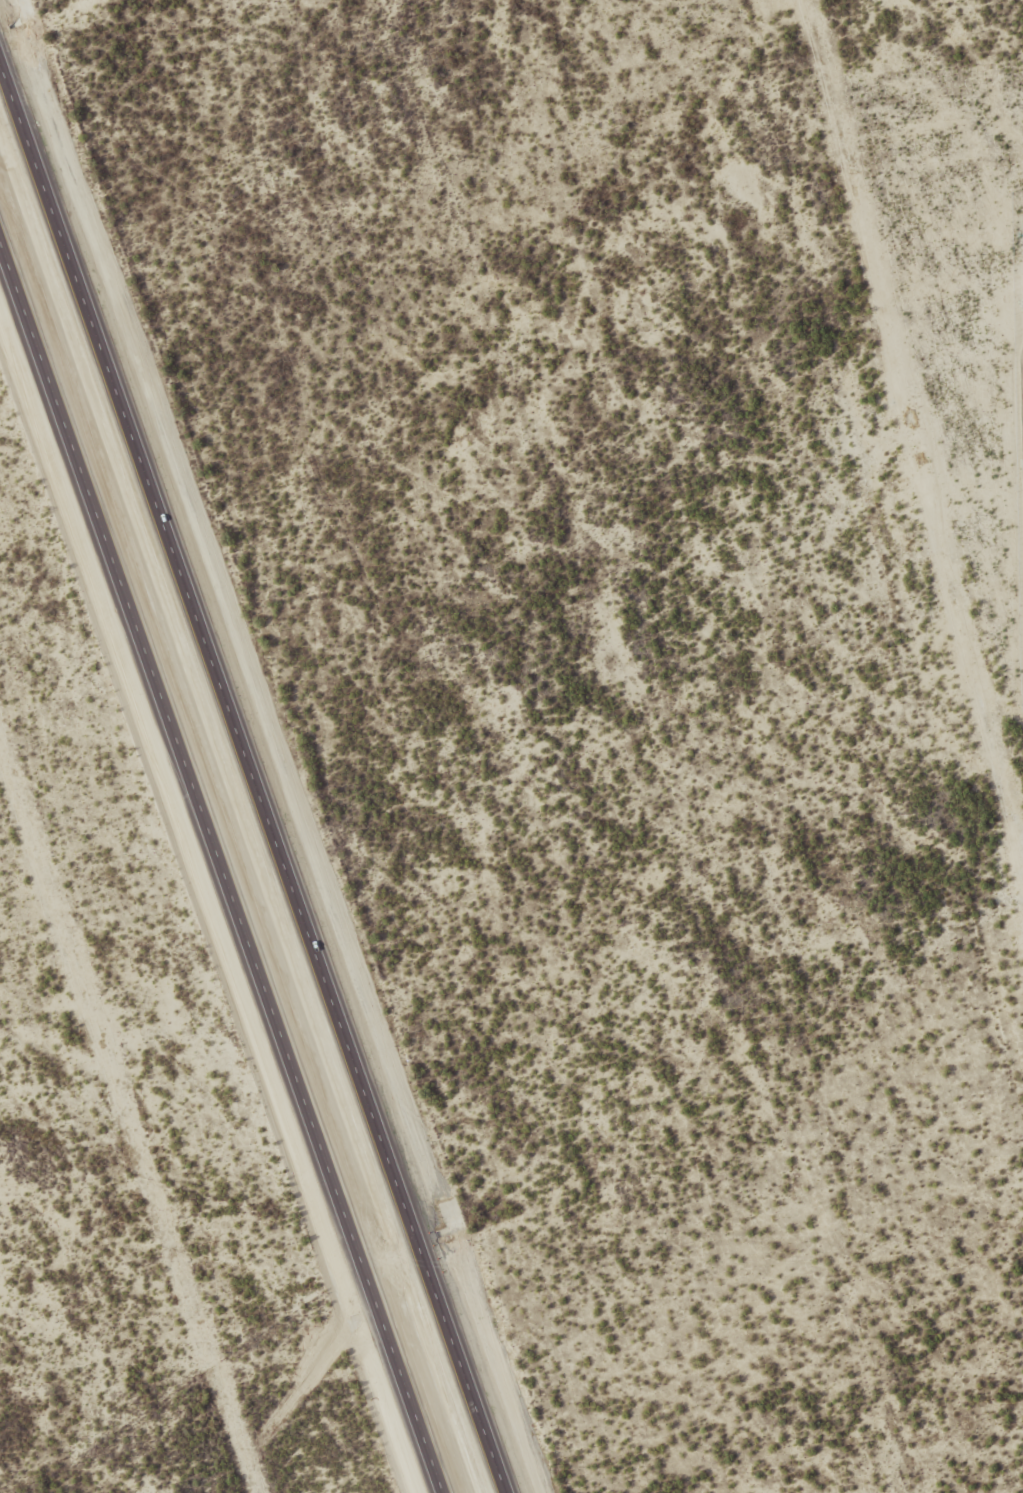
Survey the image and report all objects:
road: (254, 775)

